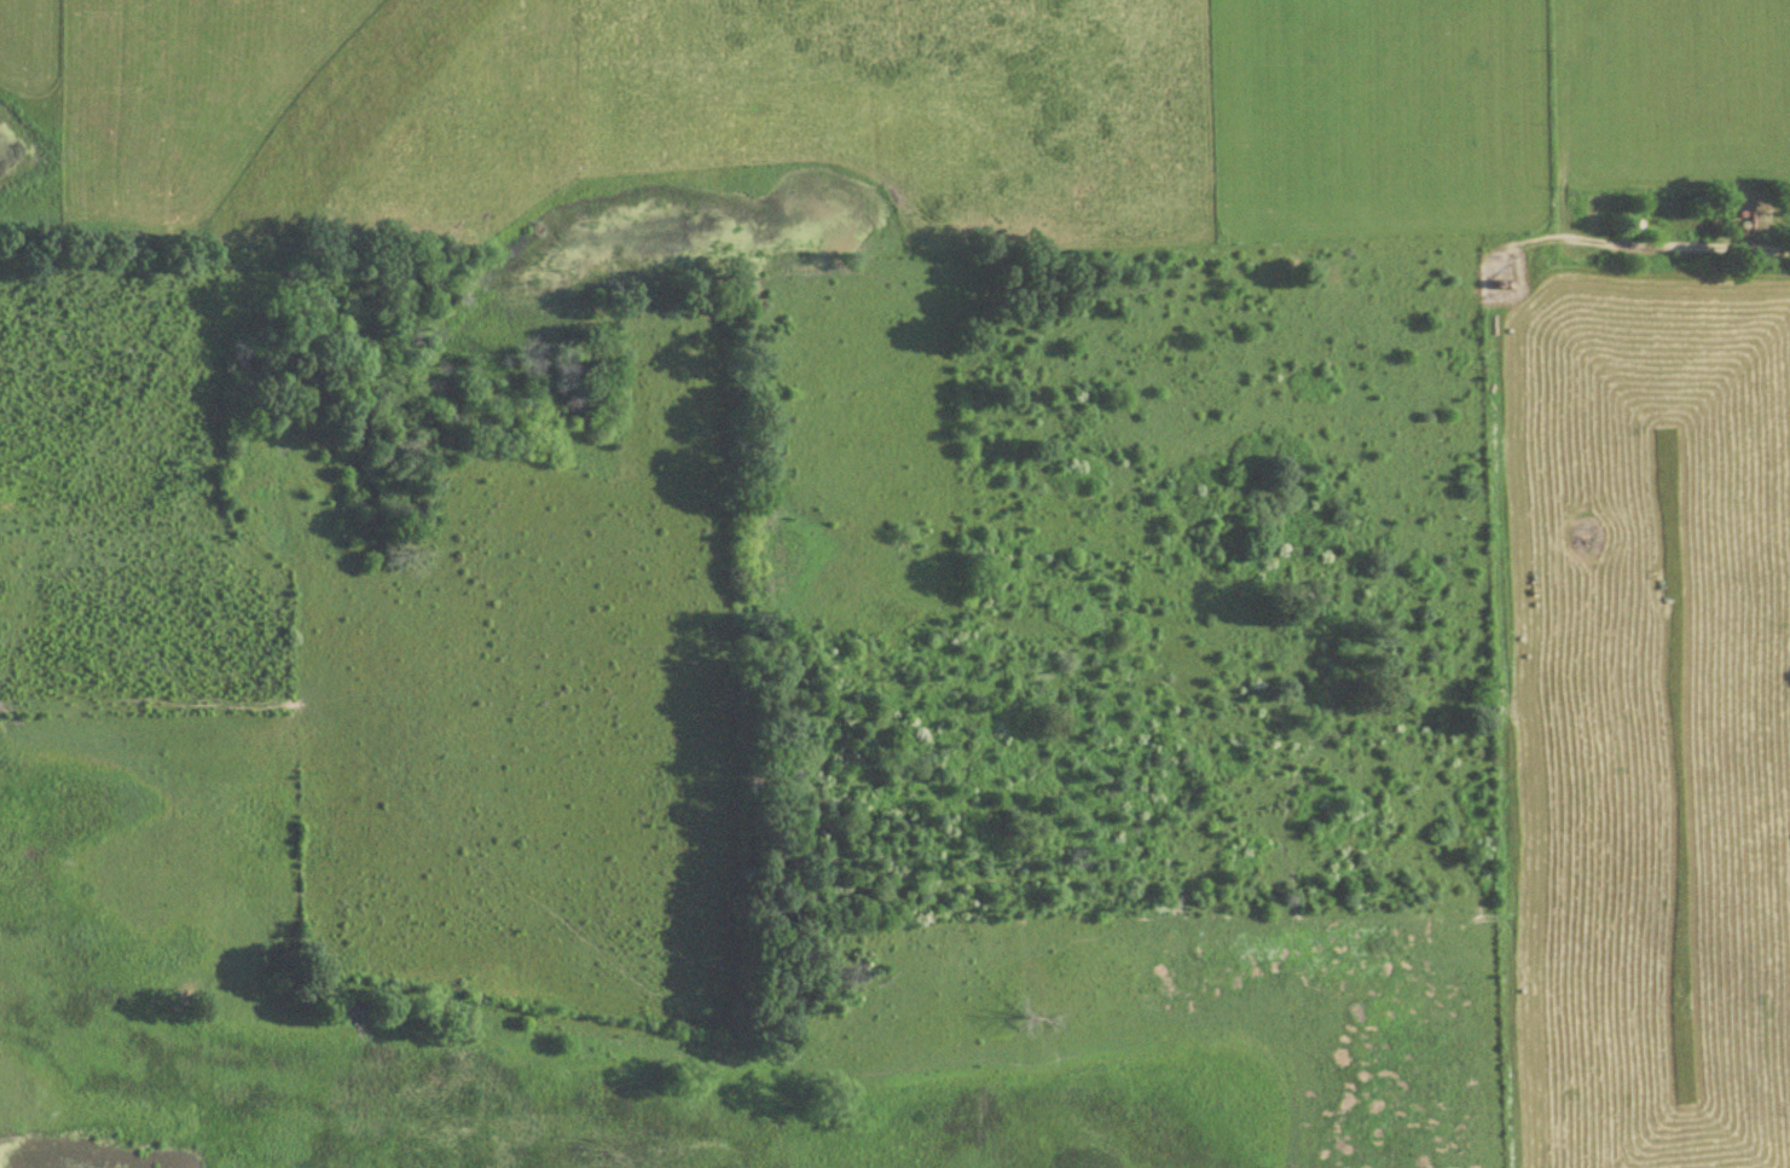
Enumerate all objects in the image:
crop: (888, 117)
road: (97, 527)
road: (1455, 606)
crop: (412, 635)

